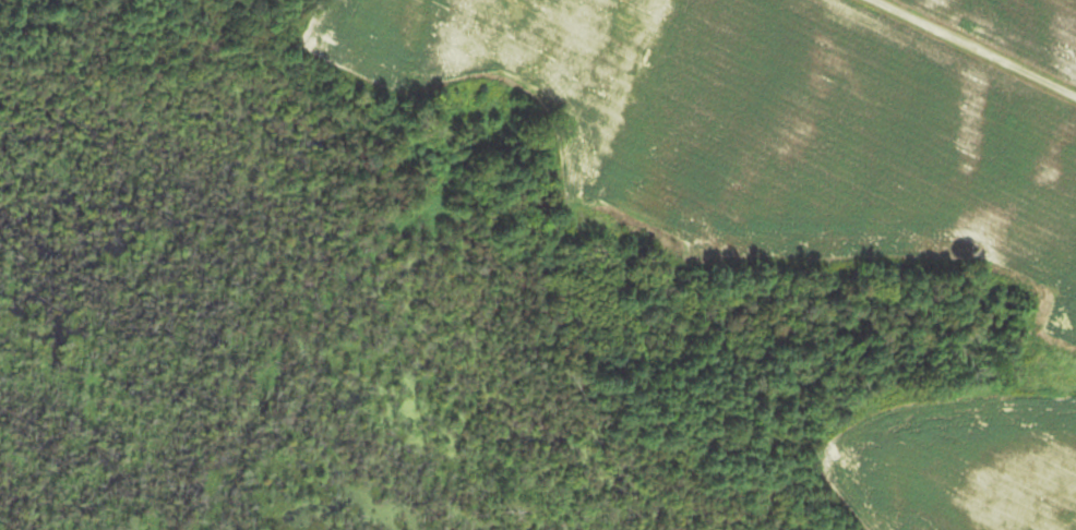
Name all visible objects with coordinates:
road: (1008, 31)

